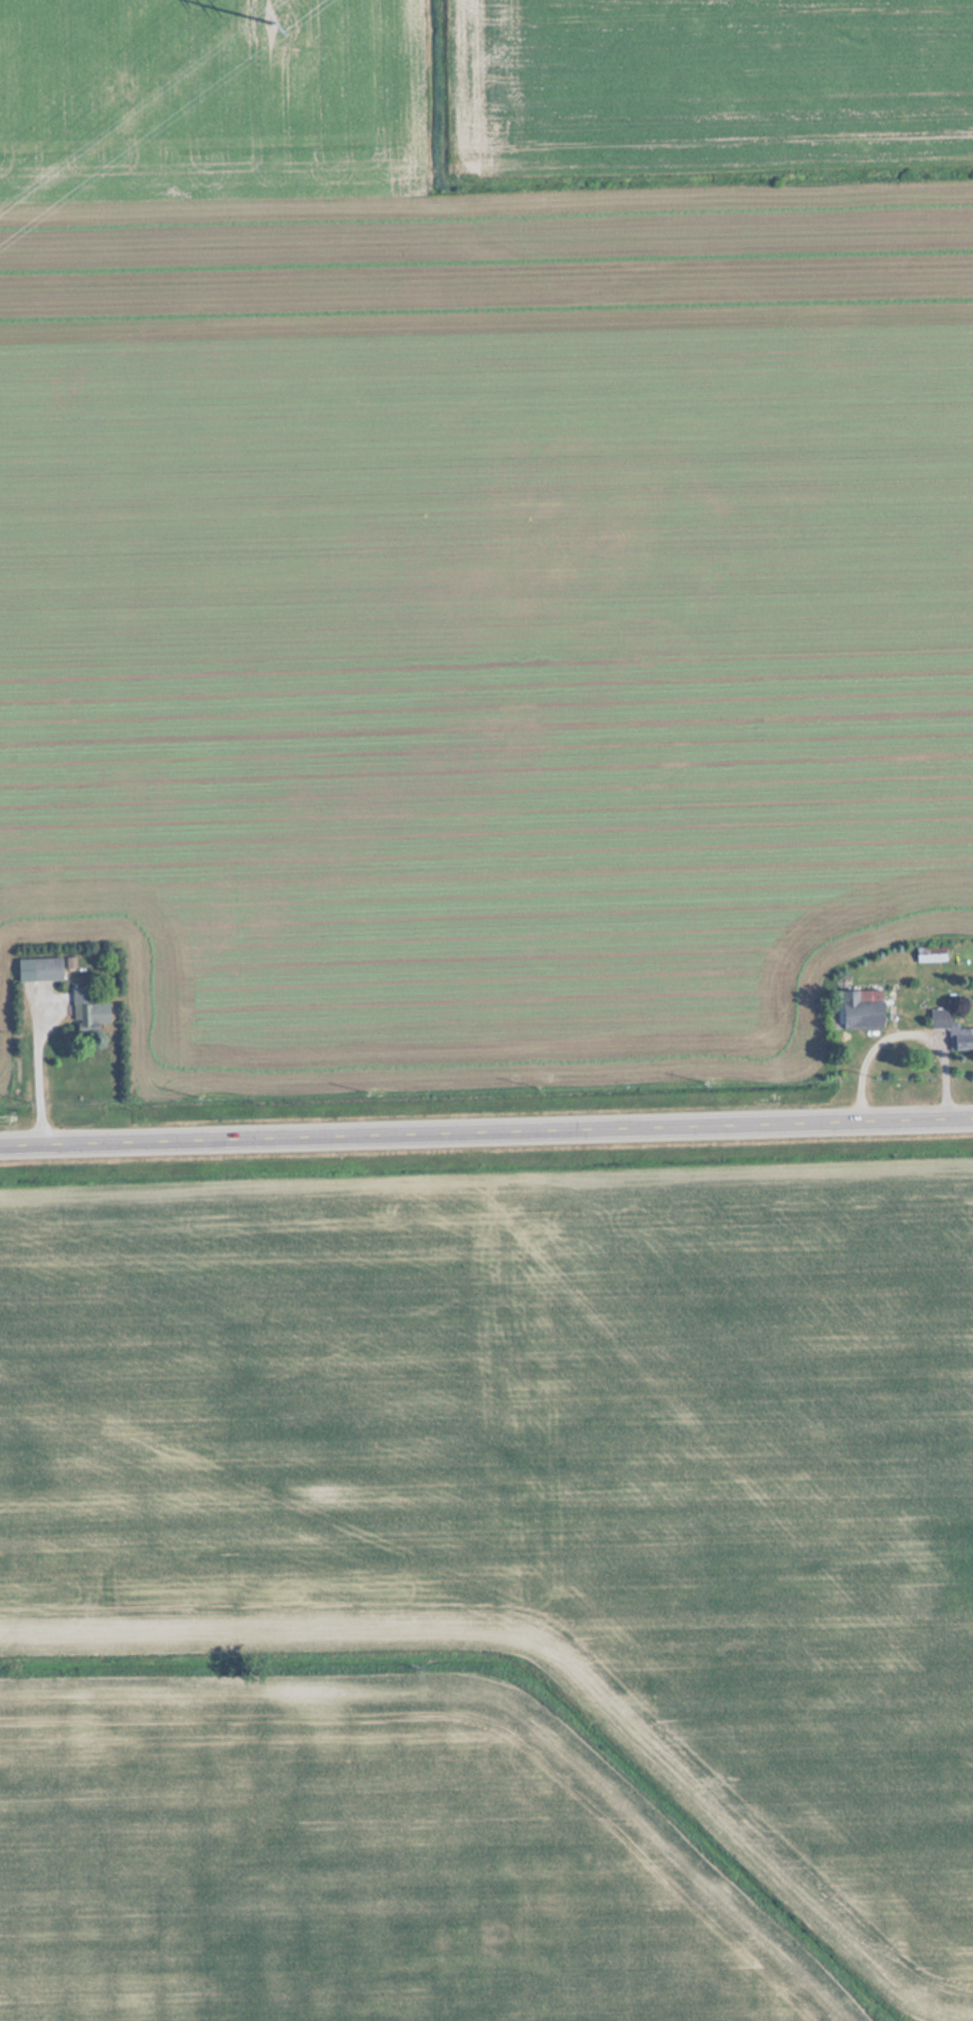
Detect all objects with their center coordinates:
power tower: (268, 26)
building: (931, 958)
building: (48, 970)
building: (90, 1010)
building: (857, 1011)
building: (952, 1034)
road: (486, 1130)

